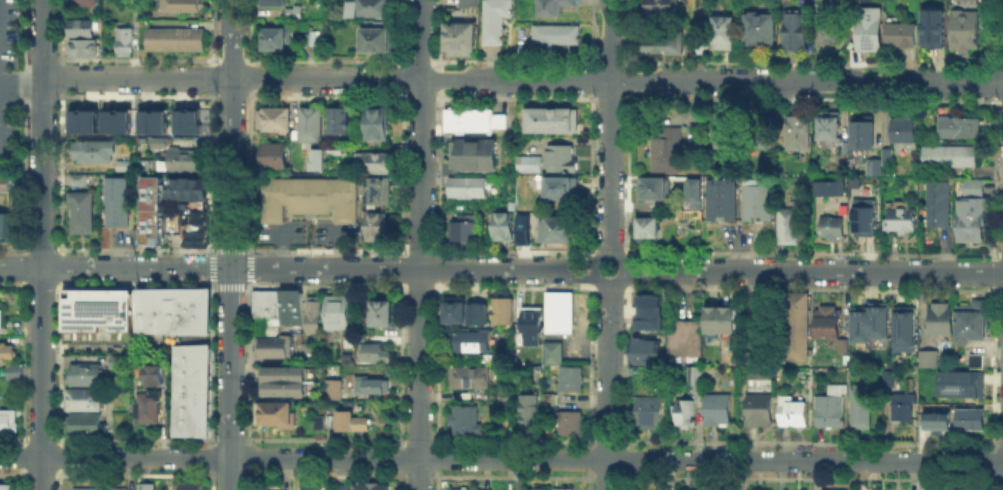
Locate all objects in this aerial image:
building: (273, 2)
building: (466, 2)
building: (969, 2)
building: (86, 3)
building: (550, 6)
building: (182, 7)
building: (371, 7)
building: (664, 7)
building: (348, 8)
building: (291, 11)
building: (494, 19)
building: (762, 26)
building: (934, 26)
building: (84, 27)
building: (828, 30)
building: (870, 30)
building: (795, 31)
building: (966, 32)
building: (724, 33)
building: (553, 35)
building: (904, 35)
building: (458, 38)
building: (311, 39)
building: (277, 40)
building: (376, 41)
building: (178, 42)
building: (126, 43)
building: (665, 43)
building: (84, 50)
parking lot: (7, 74)
road: (22, 77)
road: (523, 79)
building: (82, 119)
building: (115, 119)
building: (276, 119)
building: (152, 120)
building: (191, 120)
building: (342, 121)
building: (476, 121)
building: (555, 121)
building: (314, 124)
building: (377, 125)
road: (610, 127)
building: (832, 127)
building: (960, 128)
building: (769, 132)
building: (906, 132)
road: (231, 133)
building: (731, 133)
building: (799, 133)
building: (865, 134)
building: (159, 141)
building: (667, 150)
building: (95, 153)
building: (889, 155)
building: (275, 156)
building: (477, 156)
building: (952, 158)
building: (187, 159)
building: (315, 159)
building: (563, 159)
building: (377, 162)
building: (528, 165)
building: (126, 167)
building: (876, 168)
building: (76, 178)
building: (4, 182)
building: (188, 188)
building: (829, 188)
building: (470, 189)
building: (656, 189)
building: (564, 190)
building: (380, 192)
building: (693, 193)
building: (312, 198)
building: (759, 200)
building: (723, 201)
building: (119, 204)
building: (154, 204)
building: (940, 205)
building: (195, 208)
building: (79, 210)
building: (970, 210)
building: (695, 211)
building: (863, 216)
building: (903, 221)
building: (6, 223)
building: (791, 224)
building: (377, 226)
building: (504, 227)
building: (522, 228)
building: (649, 229)
building: (833, 229)
building: (195, 232)
building: (464, 232)
building: (560, 232)
building: (151, 236)
road: (420, 244)
road: (43, 245)
road: (607, 254)
road: (115, 268)
road: (411, 268)
road: (812, 271)
road: (608, 284)
building: (265, 304)
building: (284, 306)
building: (294, 306)
building: (195, 309)
building: (147, 310)
building: (170, 310)
building: (458, 311)
building: (503, 311)
building: (480, 312)
building: (312, 313)
building: (338, 313)
building: (382, 313)
building: (562, 314)
building: (98, 315)
building: (0, 318)
building: (940, 319)
building: (641, 320)
building: (723, 321)
building: (969, 321)
building: (830, 323)
building: (874, 324)
building: (797, 327)
building: (535, 328)
building: (270, 329)
building: (908, 329)
building: (351, 341)
building: (687, 341)
building: (471, 342)
building: (271, 345)
building: (845, 348)
building: (6, 351)
building: (648, 353)
building: (376, 354)
building: (553, 354)
building: (190, 359)
building: (930, 361)
building: (118, 363)
building: (977, 363)
building: (13, 371)
building: (151, 373)
building: (282, 373)
building: (86, 375)
building: (471, 375)
building: (697, 377)
road: (230, 378)
building: (888, 379)
building: (572, 381)
building: (372, 387)
road: (608, 387)
building: (190, 388)
building: (282, 388)
building: (948, 389)
building: (335, 392)
building: (84, 401)
building: (149, 408)
building: (904, 408)
building: (861, 409)
building: (720, 410)
building: (761, 410)
building: (833, 410)
building: (273, 412)
building: (651, 413)
building: (530, 415)
building: (687, 415)
building: (796, 415)
building: (189, 417)
building: (971, 420)
building: (465, 421)
building: (937, 421)
building: (9, 423)
building: (355, 424)
building: (572, 424)
building: (85, 426)
road: (501, 459)
building: (146, 486)
building: (338, 486)
building: (8, 487)
building: (190, 487)
building: (363, 487)
building: (561, 488)
building: (961, 488)
building: (102, 489)
building: (466, 489)
building: (530, 489)
building: (685, 489)
building: (747, 489)
building: (822, 489)

